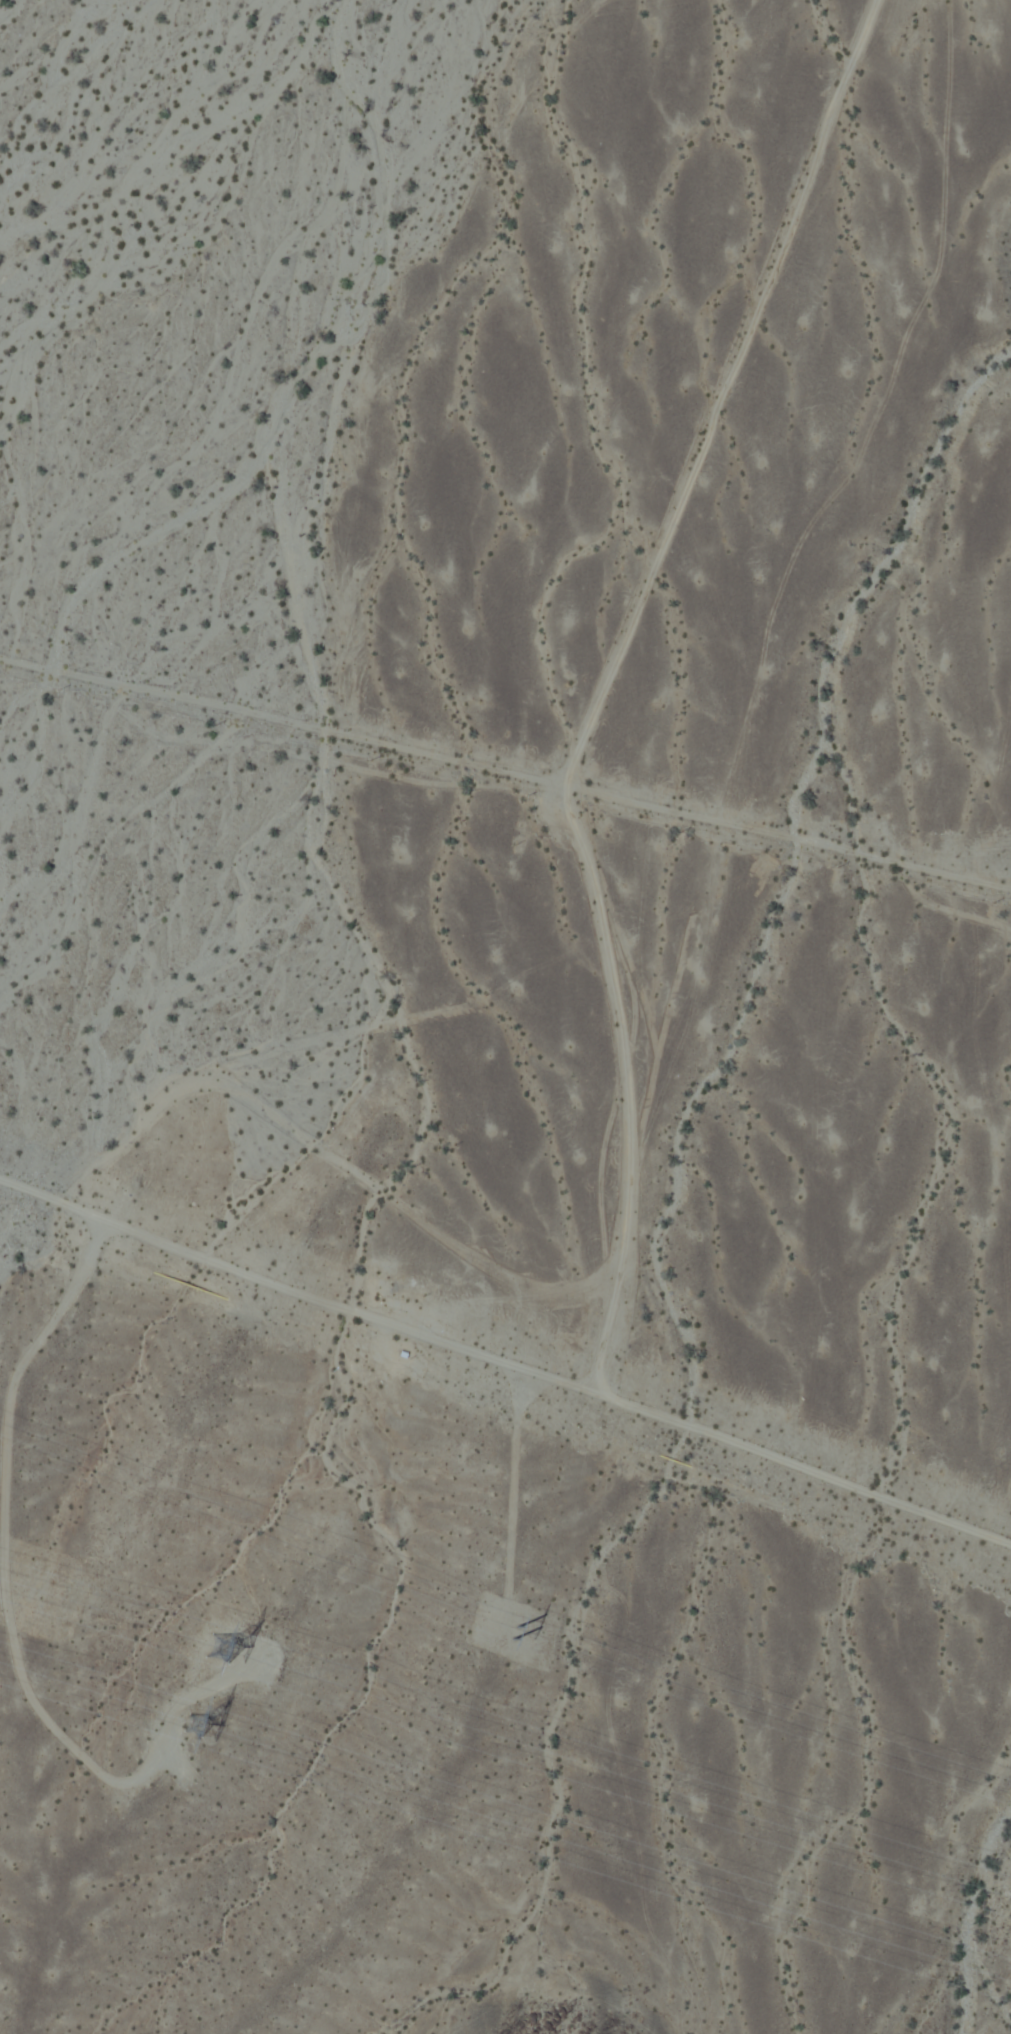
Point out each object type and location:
road: (506, 772)
building: (401, 1351)
road: (505, 1362)
power tower: (512, 1637)
power tower: (214, 1650)
power tower: (186, 1720)

